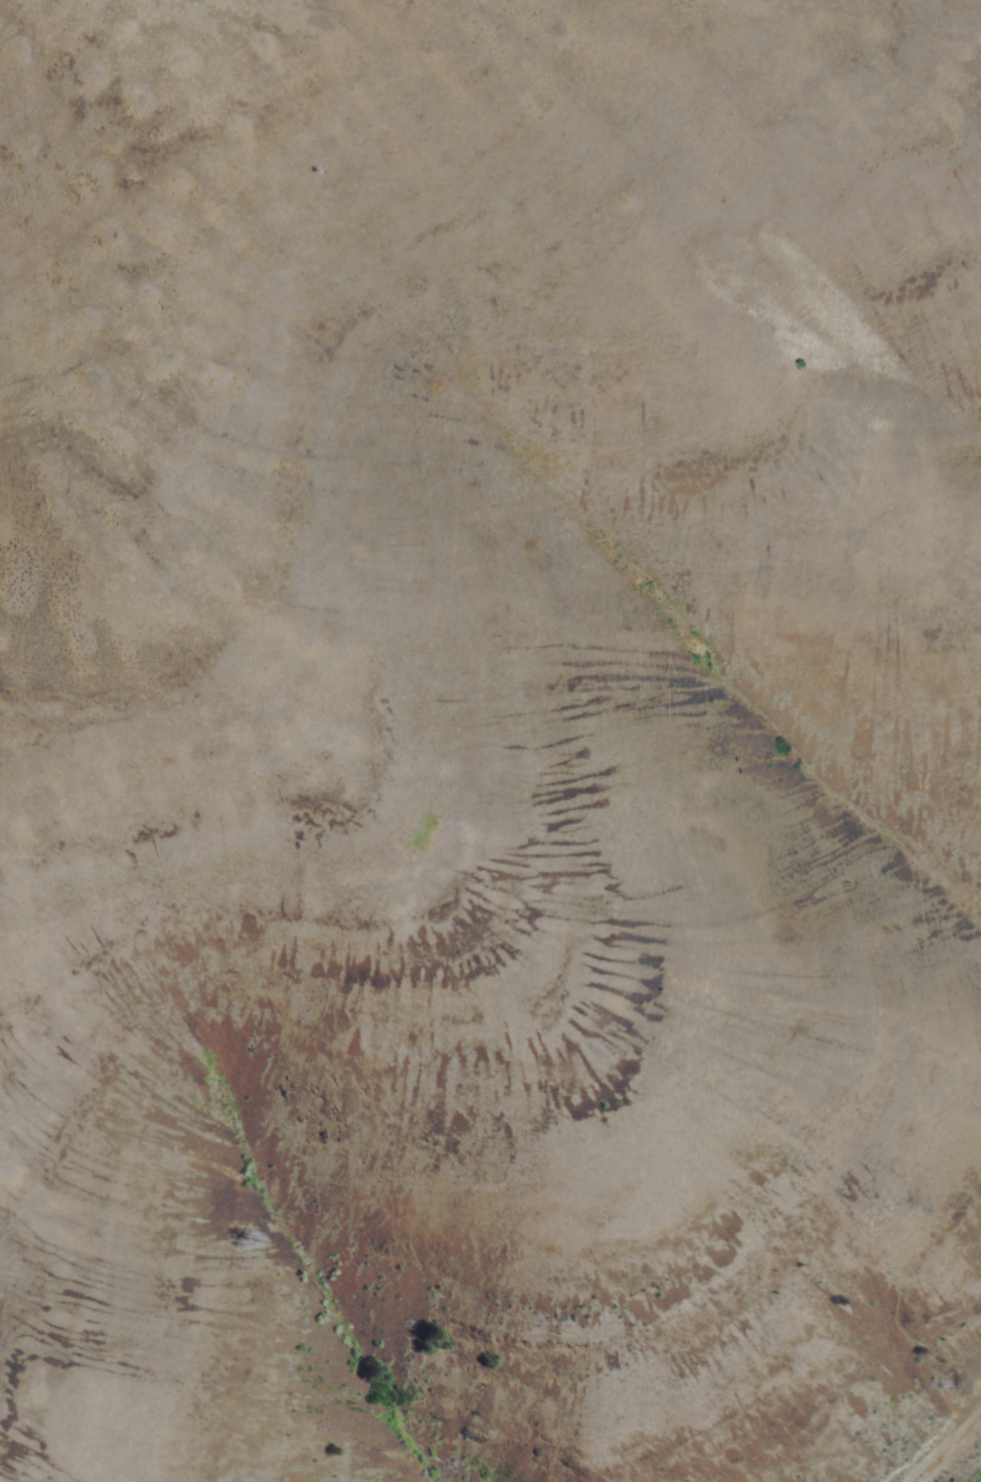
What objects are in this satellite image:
road: (944, 1444)

